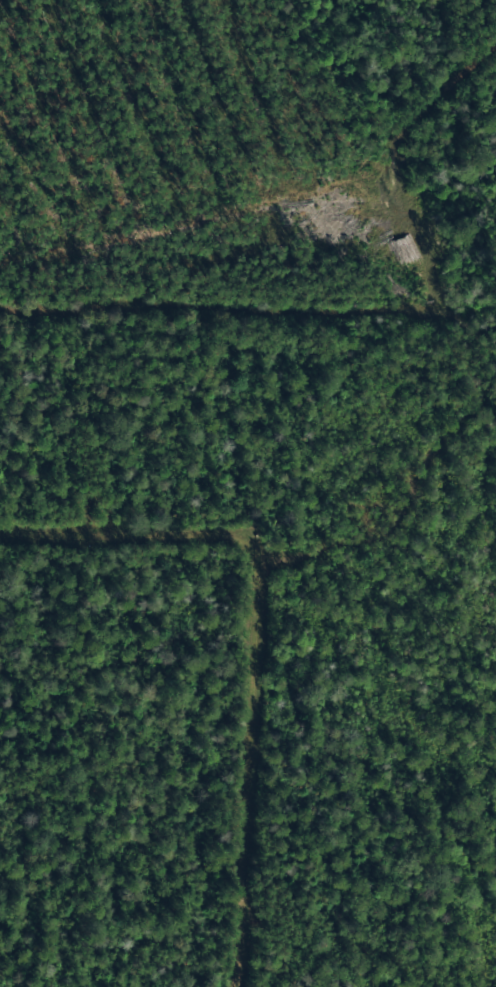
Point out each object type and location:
road: (242, 780)

